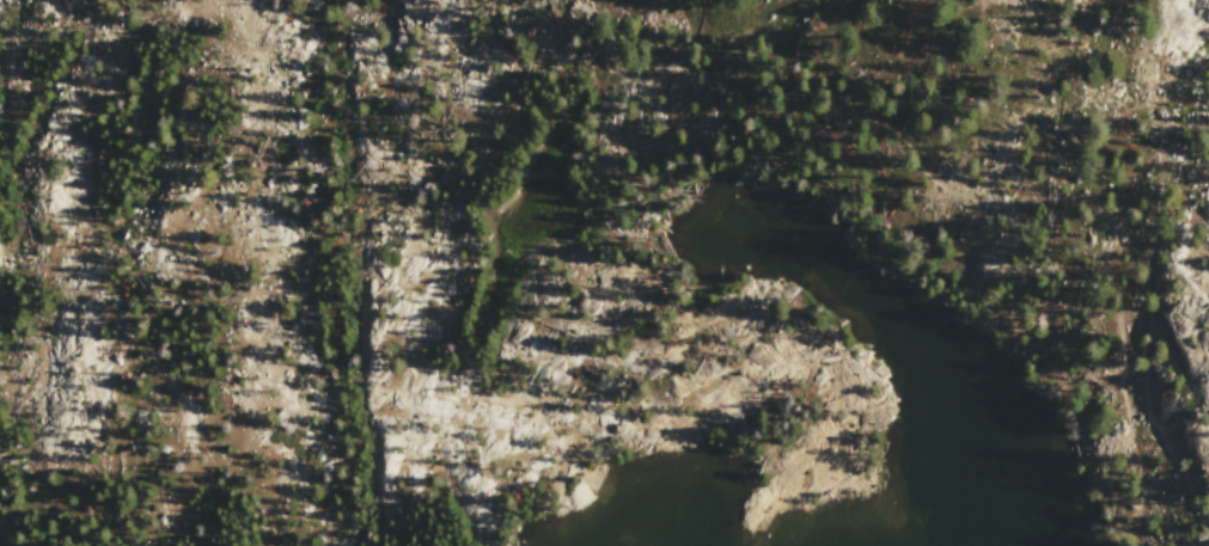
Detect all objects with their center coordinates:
road: (959, 183)
road: (1027, 247)

